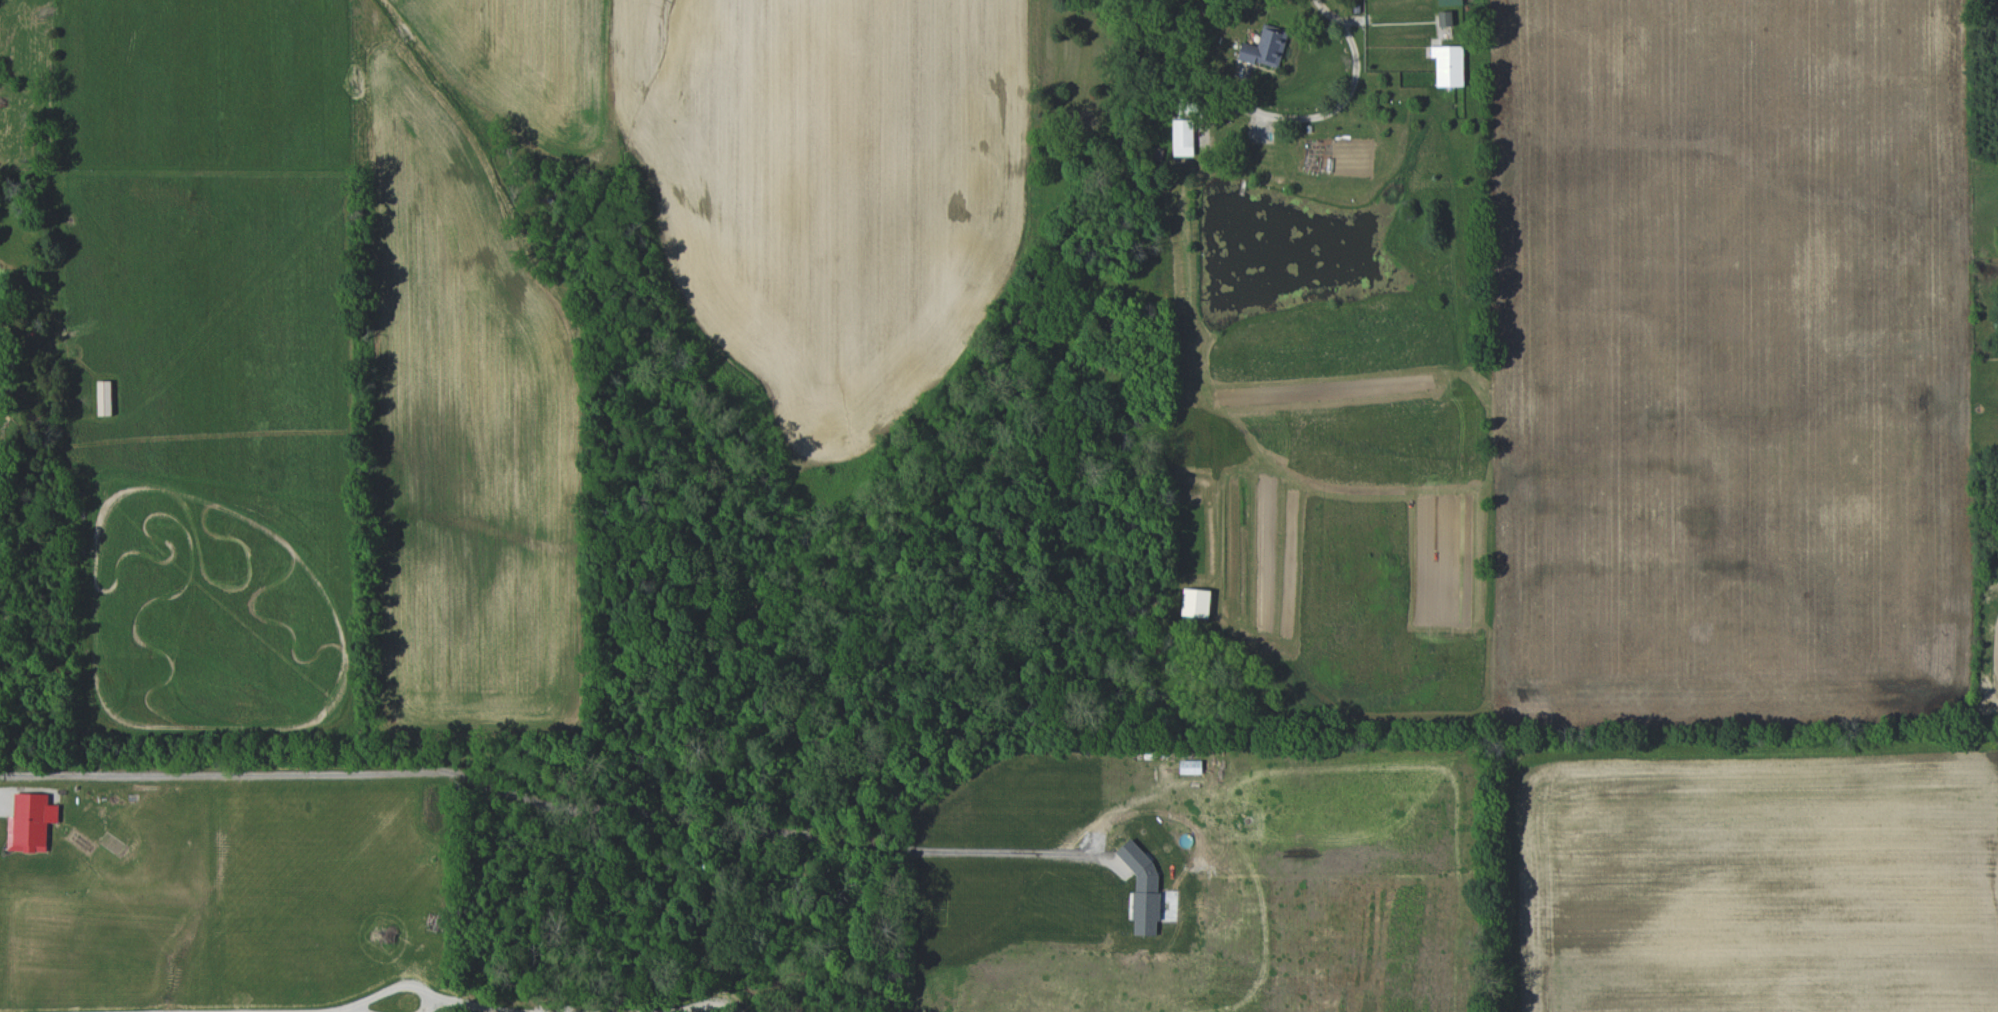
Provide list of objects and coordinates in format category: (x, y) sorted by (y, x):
building: (1450, 2)
building: (1445, 18)
building: (1266, 47)
building: (1449, 65)
road: (1352, 85)
building: (1183, 137)
building: (104, 398)
building: (1196, 602)
road: (219, 776)
building: (30, 822)
park: (1745, 869)
building: (1143, 889)
road: (398, 985)
road: (460, 1005)

